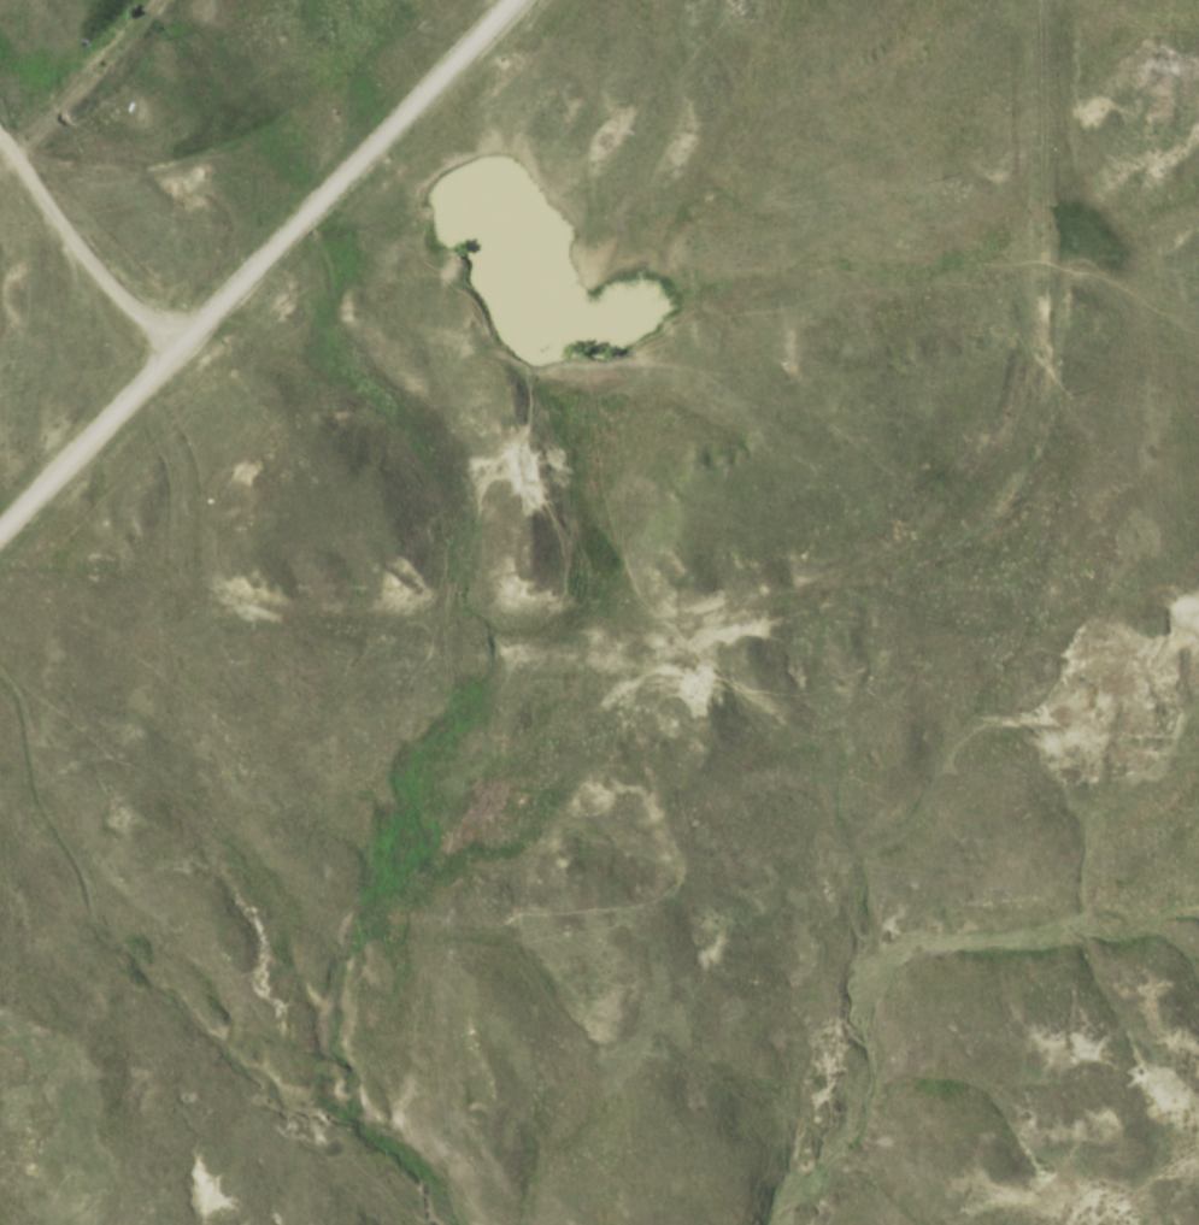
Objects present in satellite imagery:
railway: (74, 89)
road: (82, 252)
road: (257, 269)

